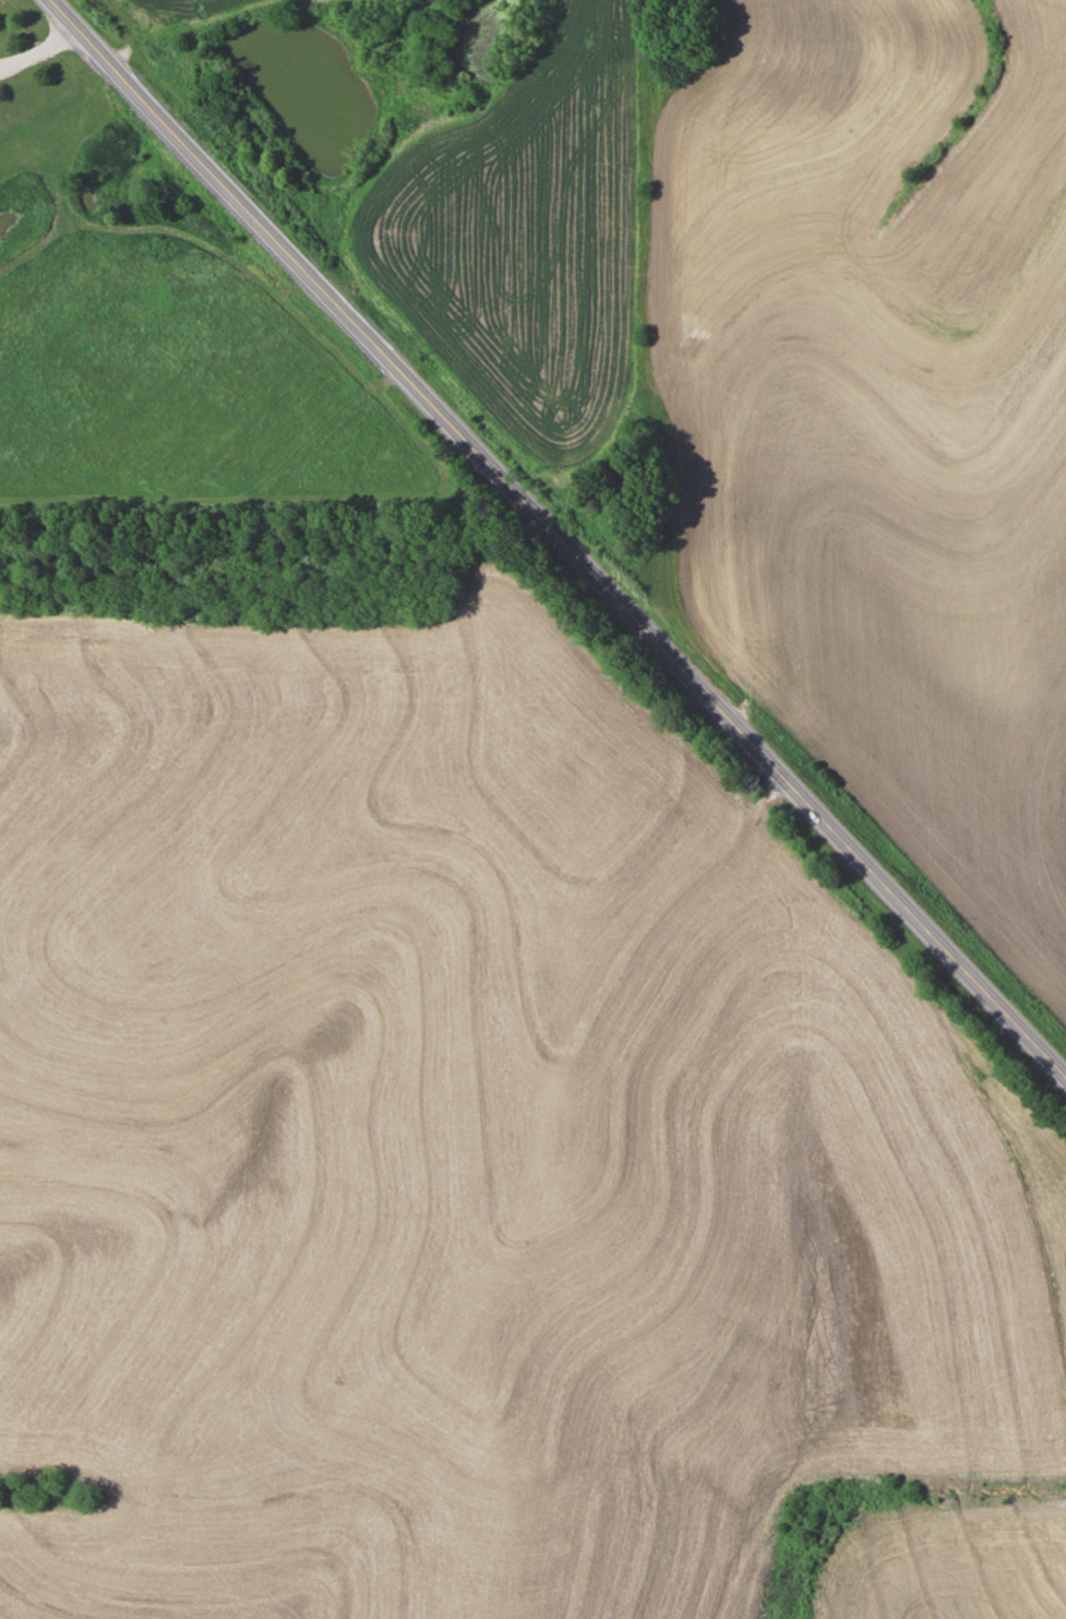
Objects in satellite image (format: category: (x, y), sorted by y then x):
crop: (152, 17)
road: (40, 45)
crop: (517, 249)
road: (555, 539)

